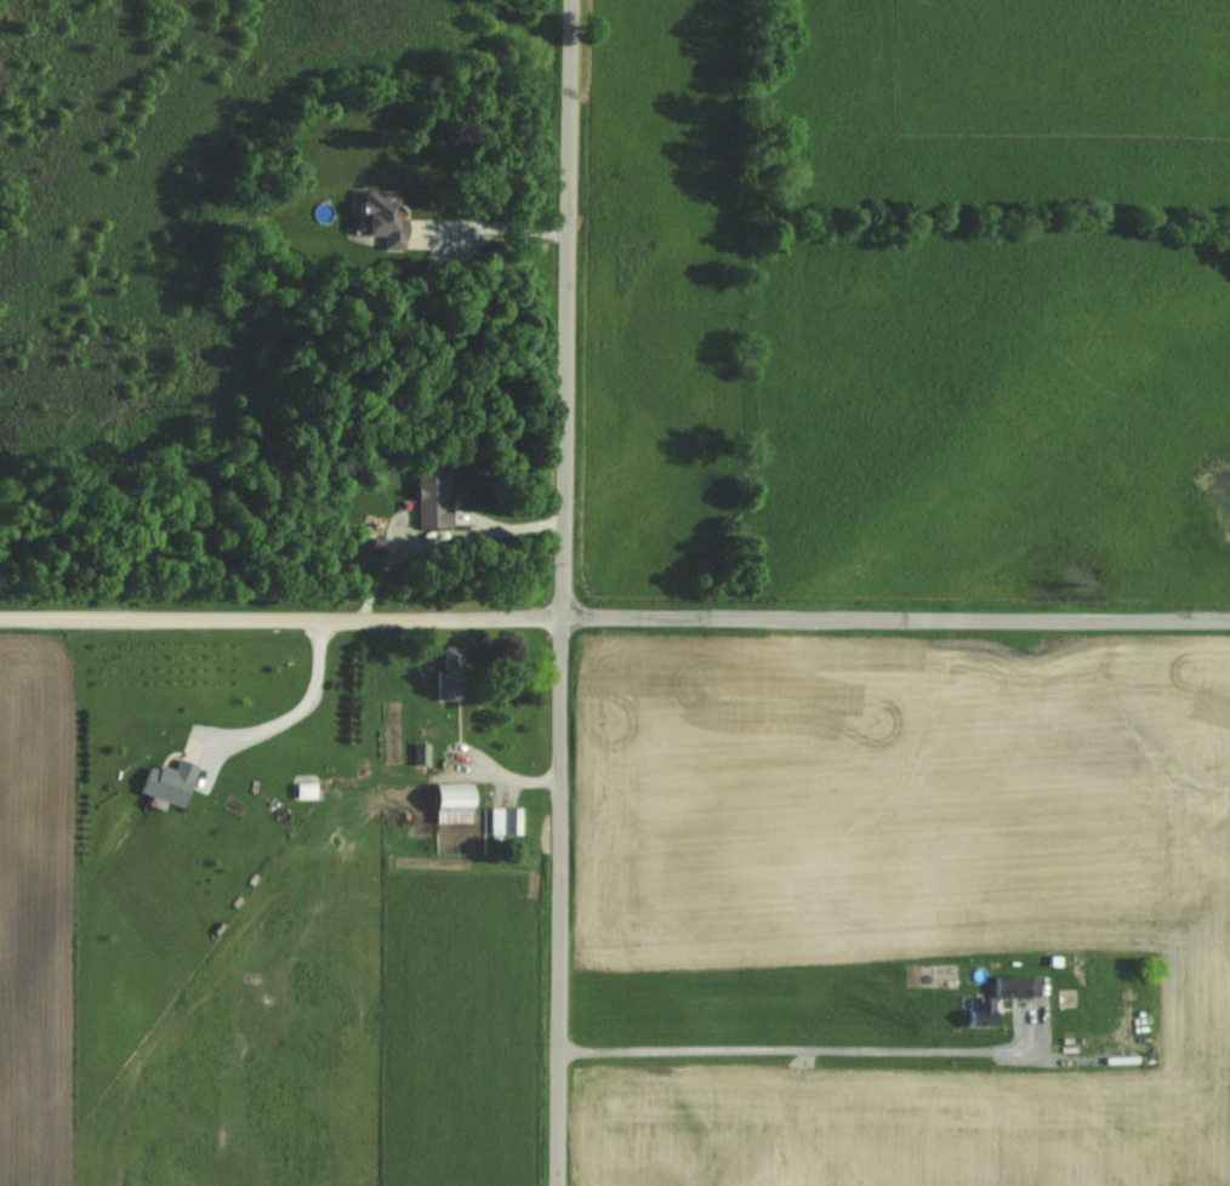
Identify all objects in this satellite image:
building: (381, 218)
road: (494, 229)
road: (569, 307)
building: (429, 500)
road: (444, 536)
road: (614, 614)
building: (448, 683)
road: (290, 712)
building: (450, 805)
building: (505, 822)
road: (562, 900)
building: (979, 1014)
road: (799, 1045)

